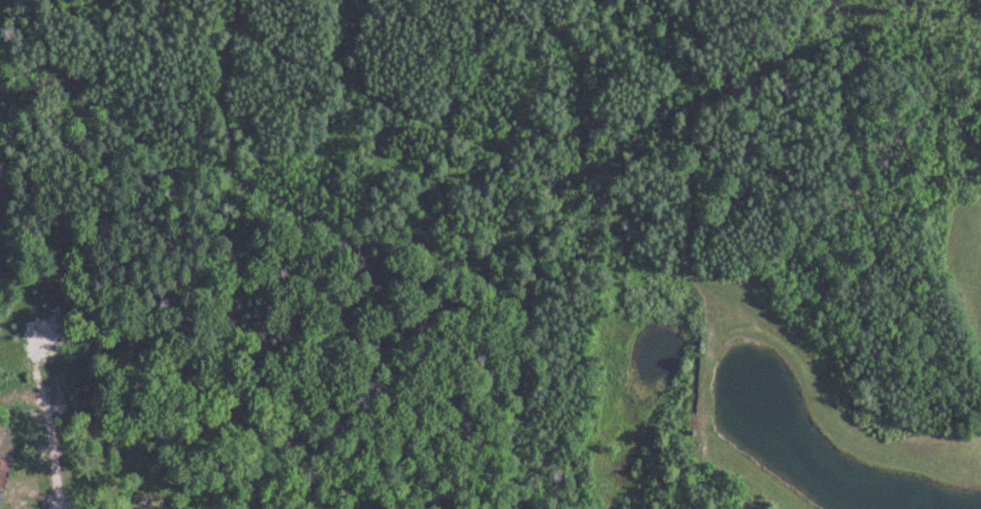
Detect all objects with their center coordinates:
building: (10, 466)

